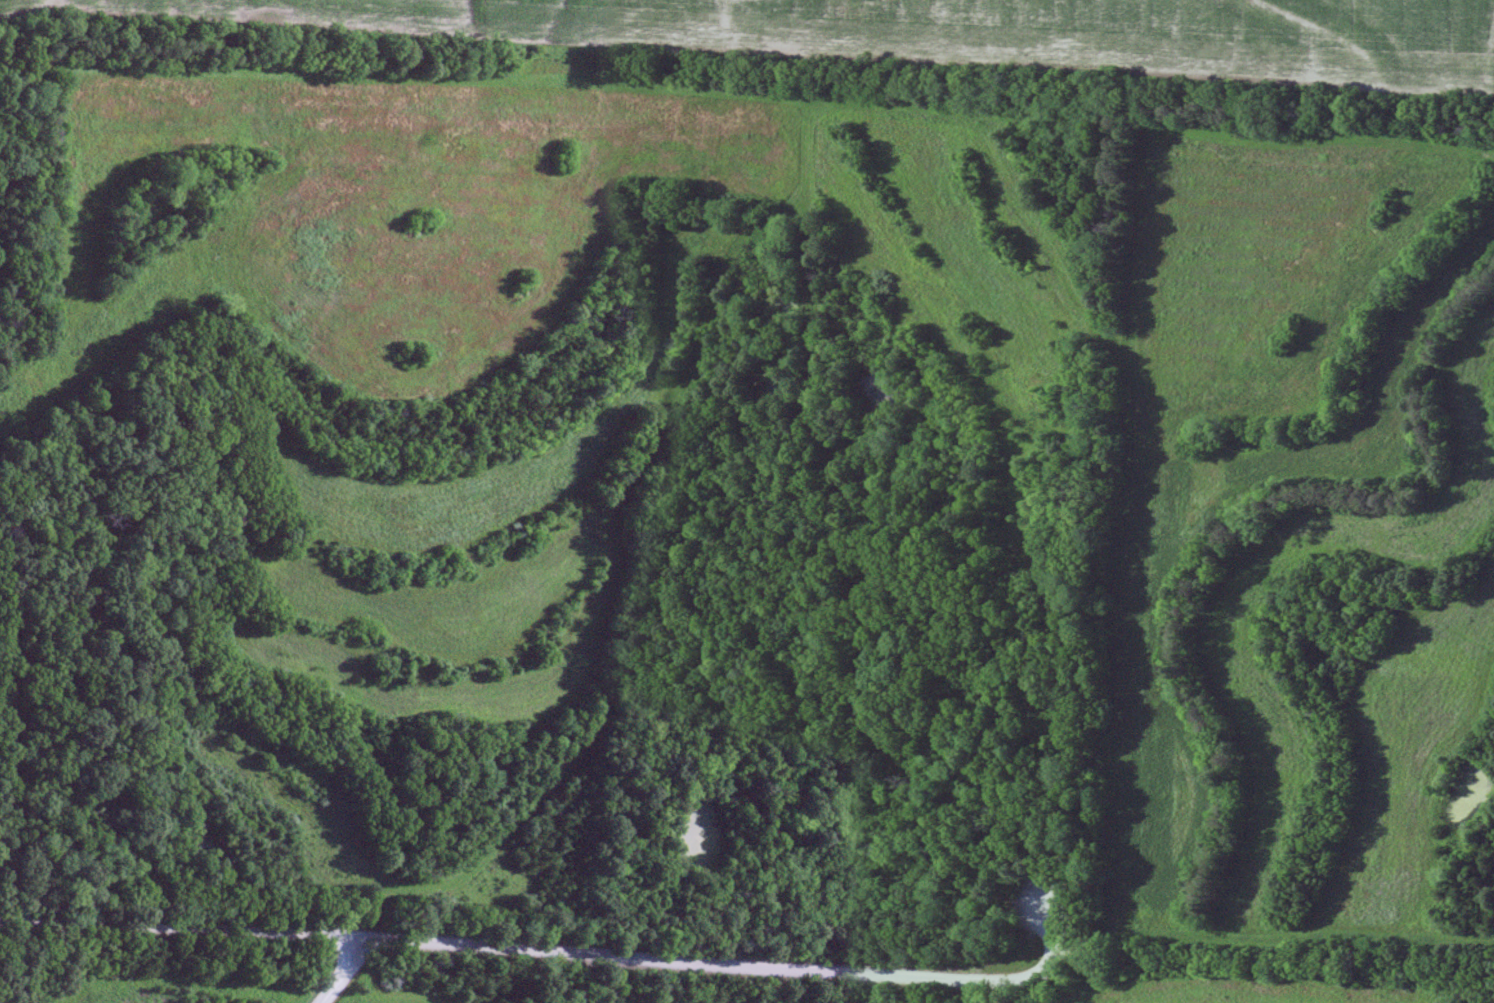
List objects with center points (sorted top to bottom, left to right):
parking lot: (1052, 898)
road: (556, 951)
road: (340, 973)

